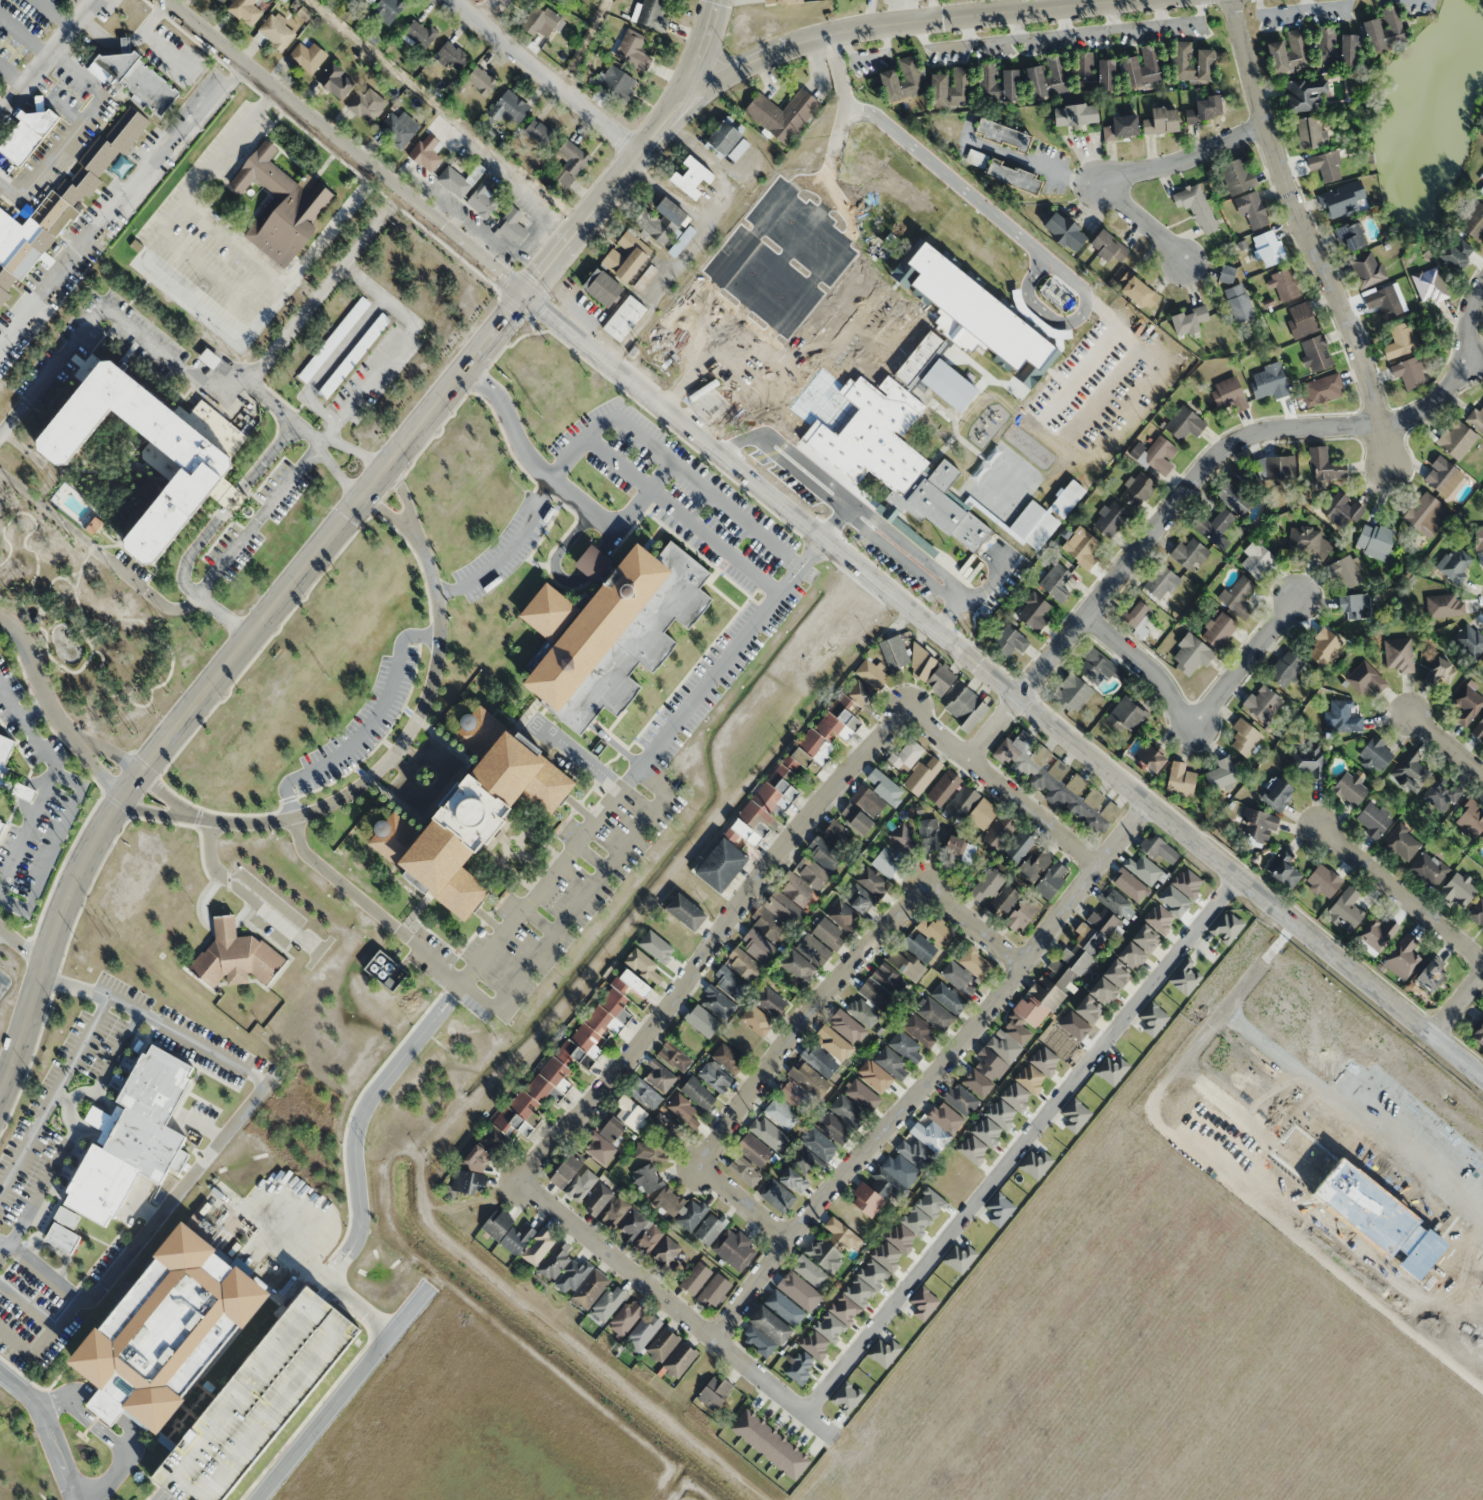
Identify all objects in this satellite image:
building: (370, 0)
building: (560, 0)
building: (219, 1)
building: (783, 1)
building: (388, 10)
building: (245, 11)
road: (491, 11)
building: (653, 14)
building: (542, 21)
building: (1393, 22)
building: (277, 31)
building: (420, 34)
building: (1372, 34)
building: (1337, 47)
building: (633, 49)
road: (793, 50)
building: (1288, 52)
building: (452, 54)
building: (307, 55)
road: (46, 57)
building: (1194, 62)
building: (1145, 66)
building: (1096, 72)
road: (550, 74)
building: (1048, 77)
building: (137, 78)
road: (689, 78)
building: (904, 79)
building: (335, 80)
building: (482, 80)
building: (618, 82)
building: (999, 83)
building: (952, 87)
building: (1303, 94)
building: (367, 104)
building: (512, 105)
building: (1206, 109)
road: (443, 113)
building: (783, 113)
building: (1077, 114)
building: (1163, 120)
building: (398, 127)
building: (1123, 127)
building: (541, 130)
building: (1310, 132)
building: (27, 135)
power tower: (763, 135)
building: (1004, 135)
building: (729, 141)
road: (342, 149)
building: (427, 151)
road: (275, 155)
road: (288, 155)
building: (977, 158)
parking lot: (232, 161)
road: (325, 161)
building: (572, 161)
building: (1325, 165)
parking lot: (194, 169)
road: (1133, 169)
building: (1236, 175)
building: (1015, 176)
building: (694, 177)
building: (459, 180)
building: (1482, 190)
building: (483, 199)
building: (1340, 199)
road: (117, 200)
building: (61, 203)
building: (280, 203)
building: (1195, 207)
building: (1251, 210)
building: (661, 220)
building: (1473, 221)
building: (513, 226)
building: (1061, 231)
road: (1308, 233)
building: (1348, 236)
road: (246, 240)
road: (793, 242)
road: (234, 243)
building: (1106, 246)
road: (303, 248)
building: (1267, 248)
building: (1454, 254)
building: (626, 256)
parking lot: (223, 260)
road: (724, 269)
building: (1367, 269)
road: (210, 274)
building: (911, 278)
building: (1284, 285)
building: (1428, 285)
parking lot: (199, 286)
building: (604, 287)
road: (320, 289)
road: (792, 292)
road: (135, 294)
road: (188, 298)
traffic signals: (522, 300)
building: (1384, 301)
building: (1238, 303)
building: (625, 318)
building: (1186, 320)
building: (1299, 320)
road: (139, 336)
building: (983, 338)
building: (334, 339)
building: (1400, 341)
road: (751, 342)
building: (1315, 353)
building: (354, 355)
building: (1408, 372)
building: (1267, 381)
building: (1322, 389)
building: (1226, 394)
power tower: (539, 413)
building: (877, 415)
building: (1476, 416)
building: (1180, 423)
building: (1455, 439)
road: (349, 447)
building: (149, 455)
road: (664, 455)
building: (1157, 456)
building: (1323, 465)
road: (1203, 466)
building: (1276, 468)
road: (333, 469)
building: (1241, 477)
building: (1442, 477)
road: (561, 488)
building: (1135, 489)
building: (60, 494)
building: (1233, 498)
building: (1342, 510)
road: (681, 514)
building: (1425, 515)
building: (1109, 519)
building: (94, 524)
building: (1214, 528)
road: (203, 534)
building: (1478, 538)
road: (609, 540)
building: (1308, 541)
building: (1379, 542)
building: (1080, 548)
road: (506, 551)
road: (557, 553)
building: (1188, 554)
building: (1256, 559)
road: (595, 561)
building: (1453, 564)
building: (1346, 571)
building: (1055, 583)
building: (1160, 584)
building: (1237, 596)
building: (1354, 605)
building: (1441, 606)
road: (172, 609)
building: (1034, 611)
building: (1138, 620)
building: (608, 630)
building: (1218, 630)
building: (1010, 640)
building: (1469, 641)
building: (1322, 648)
road: (729, 654)
building: (1189, 655)
building: (1398, 656)
building: (1097, 667)
building: (1285, 669)
building: (871, 673)
building: (1439, 674)
power tower: (325, 676)
building: (1365, 678)
road: (221, 679)
building: (937, 680)
road: (1003, 688)
building: (862, 693)
building: (1070, 694)
building: (1262, 703)
building: (1467, 705)
road: (32, 711)
road: (52, 714)
building: (1126, 716)
building: (1342, 716)
road: (1196, 717)
road: (417, 719)
building: (841, 719)
road: (367, 728)
road: (29, 730)
building: (1477, 730)
building: (1243, 737)
road: (1442, 739)
road: (398, 749)
building: (907, 754)
building: (1375, 754)
road: (575, 755)
building: (4, 756)
building: (1146, 758)
building: (1309, 760)
road: (474, 767)
building: (1411, 771)
building: (923, 774)
building: (1221, 774)
road: (25, 778)
road: (367, 778)
building: (1179, 779)
building: (1057, 780)
road: (71, 784)
road: (98, 785)
building: (782, 785)
road: (322, 786)
building: (944, 787)
road: (1003, 787)
building: (1350, 788)
building: (877, 792)
building: (1276, 794)
building: (1442, 794)
building: (962, 801)
building: (469, 814)
building: (981, 815)
building: (857, 818)
building: (1373, 819)
building: (1470, 819)
building: (1257, 825)
building: (0, 826)
building: (1000, 830)
building: (837, 834)
building: (928, 834)
building: (1481, 836)
building: (902, 837)
building: (1401, 843)
building: (1018, 845)
building: (959, 847)
road: (209, 848)
building: (1158, 848)
building: (824, 853)
road: (591, 857)
building: (888, 861)
building: (1035, 863)
building: (723, 864)
building: (1143, 868)
building: (1283, 869)
building: (1428, 869)
building: (811, 872)
road: (548, 875)
building: (1051, 879)
building: (1323, 880)
building: (872, 882)
building: (1187, 882)
road: (343, 884)
building: (1130, 884)
building: (987, 885)
building: (795, 888)
building: (1458, 889)
road: (1395, 890)
building: (858, 898)
building: (1004, 900)
road: (13, 902)
building: (1115, 902)
building: (684, 910)
building: (1345, 910)
road: (268, 911)
building: (1477, 912)
building: (775, 914)
building: (1022, 914)
building: (842, 915)
building: (1158, 918)
road: (538, 921)
road: (209, 922)
road: (561, 926)
building: (1226, 926)
building: (935, 929)
building: (829, 933)
building: (1377, 935)
building: (1145, 936)
power tower: (110, 937)
road: (713, 941)
building: (757, 945)
building: (920, 946)
road: (23, 948)
building: (814, 949)
building: (1131, 954)
building: (235, 956)
building: (1402, 958)
building: (973, 960)
building: (906, 963)
building: (743, 964)
building: (798, 966)
building: (1116, 972)
building: (1428, 974)
building: (1184, 976)
building: (958, 978)
road: (0, 979)
building: (889, 979)
building: (730, 982)
parking lot: (4, 983)
building: (1102, 990)
building: (876, 993)
building: (948, 997)
building: (771, 1001)
building: (718, 1002)
road: (1457, 1006)
building: (1088, 1007)
building: (863, 1011)
building: (935, 1012)
road: (807, 1014)
building: (1153, 1017)
building: (756, 1019)
building: (702, 1020)
road: (157, 1022)
building: (847, 1026)
building: (920, 1030)
building: (1477, 1034)
building: (833, 1043)
building: (906, 1046)
road: (116, 1054)
building: (571, 1055)
building: (729, 1056)
building: (674, 1057)
building: (820, 1059)
building: (1044, 1060)
building: (893, 1063)
building: (1111, 1069)
road: (935, 1074)
building: (660, 1075)
building: (715, 1076)
building: (808, 1078)
building: (1029, 1078)
road: (4, 1086)
building: (699, 1092)
road: (53, 1093)
building: (644, 1093)
building: (794, 1095)
building: (863, 1095)
building: (1015, 1096)
road: (62, 1098)
building: (960, 1098)
building: (681, 1107)
building: (848, 1111)
building: (630, 1112)
building: (780, 1112)
building: (1000, 1113)
building: (1075, 1114)
building: (944, 1117)
road: (358, 1120)
road: (73, 1122)
road: (203, 1126)
building: (834, 1127)
building: (613, 1129)
building: (986, 1131)
building: (769, 1132)
building: (930, 1135)
building: (819, 1143)
road: (1020, 1143)
power tower: (367, 1147)
building: (124, 1148)
building: (600, 1149)
building: (754, 1149)
building: (971, 1149)
building: (651, 1150)
building: (915, 1153)
building: (808, 1161)
building: (1035, 1164)
building: (900, 1169)
building: (567, 1171)
building: (744, 1171)
building: (648, 1177)
building: (794, 1179)
building: (470, 1182)
building: (581, 1184)
building: (885, 1184)
road: (39, 1191)
building: (777, 1194)
building: (597, 1198)
building: (866, 1199)
building: (668, 1201)
building: (998, 1208)
building: (614, 1211)
building: (691, 1214)
building: (497, 1224)
road: (148, 1228)
building: (709, 1228)
building: (640, 1230)
building: (840, 1234)
building: (517, 1238)
building: (900, 1238)
building: (538, 1246)
building: (733, 1248)
building: (665, 1251)
building: (823, 1254)
building: (886, 1255)
building: (958, 1257)
building: (554, 1260)
building: (809, 1271)
building: (872, 1273)
building: (572, 1274)
building: (695, 1277)
crop: (1219, 1282)
road: (329, 1283)
building: (589, 1288)
building: (714, 1290)
building: (798, 1290)
building: (858, 1291)
building: (607, 1302)
building: (923, 1302)
road: (26, 1305)
building: (784, 1307)
road: (678, 1308)
building: (843, 1309)
building: (625, 1317)
building: (770, 1324)
building: (829, 1327)
building: (642, 1332)
building: (167, 1337)
road: (42, 1338)
building: (758, 1340)
building: (662, 1344)
building: (814, 1344)
power tower: (613, 1346)
building: (883, 1352)
building: (679, 1359)
building: (799, 1367)
building: (713, 1393)
road: (341, 1394)
building: (845, 1397)
building: (259, 1399)
parking garage: (259, 1399)
road: (122, 1420)
road: (94, 1426)
road: (47, 1429)
flagpole: (82, 1435)
building: (769, 1443)
road: (165, 1496)

